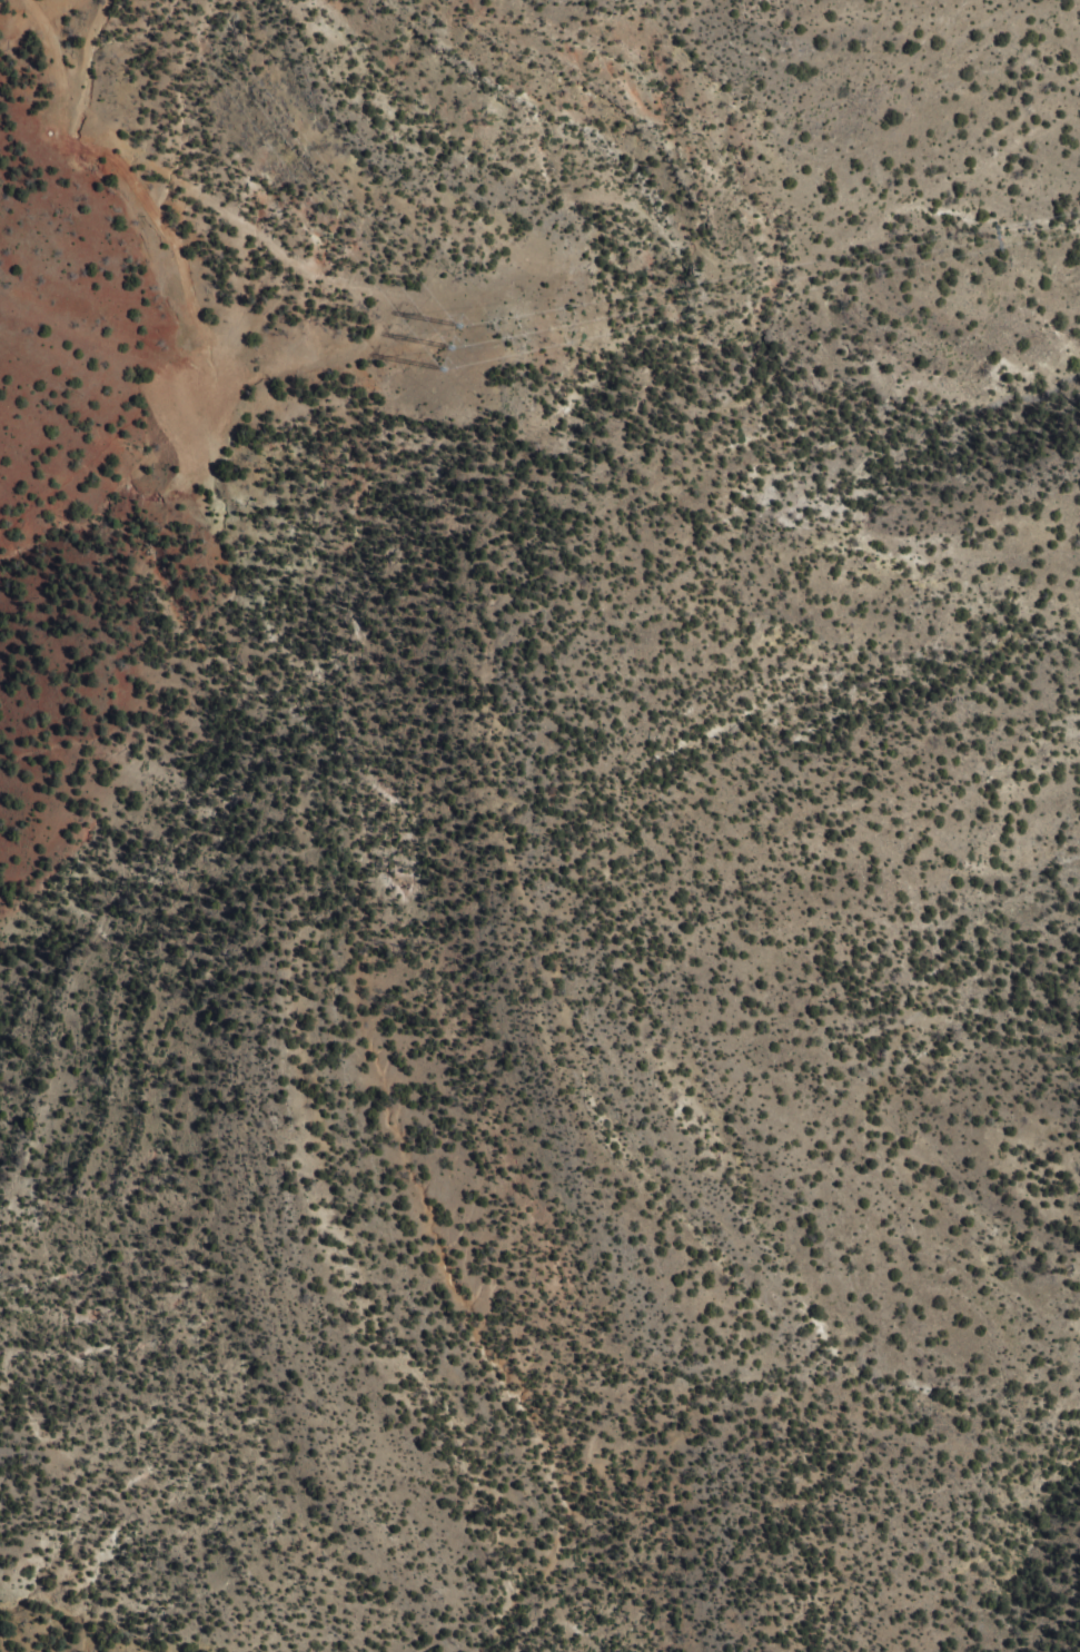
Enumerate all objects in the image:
road: (176, 181)
power tower: (995, 239)
power tower: (458, 325)
power tower: (444, 346)
power tower: (438, 366)

